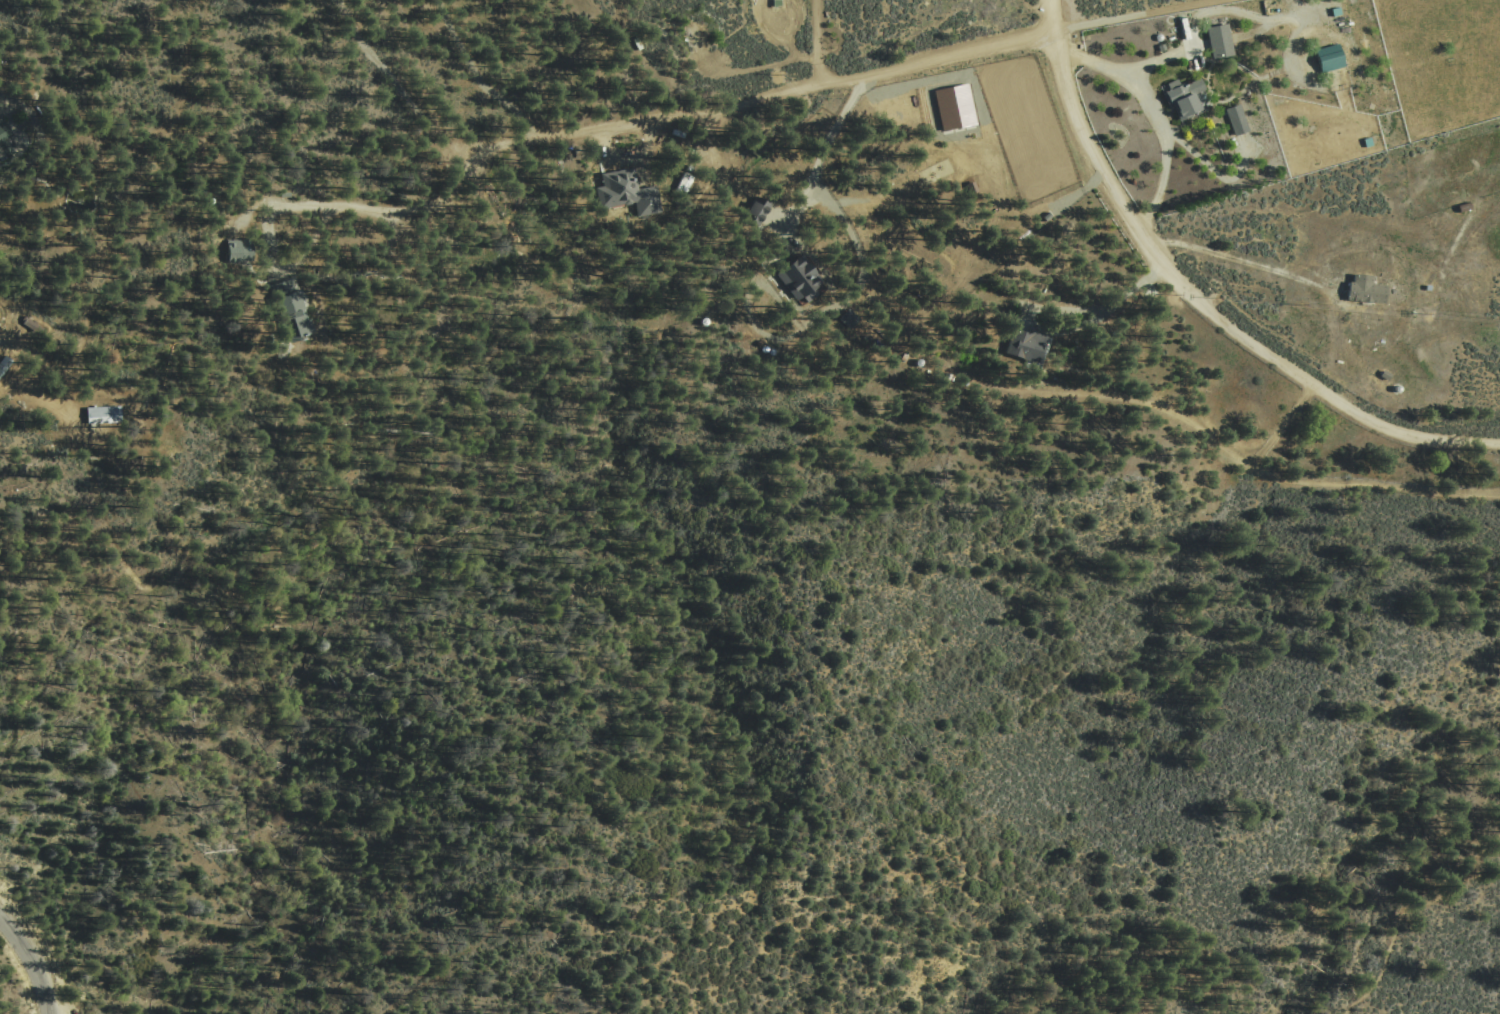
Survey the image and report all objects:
road: (1212, 12)
road: (1144, 18)
building: (1217, 41)
road: (818, 43)
building: (1327, 58)
building: (1180, 98)
road: (762, 100)
building: (953, 105)
road: (1155, 116)
building: (1233, 120)
building: (6, 140)
road: (42, 140)
road: (646, 149)
road: (1214, 172)
building: (632, 192)
road: (825, 197)
road: (307, 206)
road: (800, 208)
building: (760, 209)
building: (242, 249)
road: (1240, 262)
building: (805, 279)
building: (1369, 290)
road: (1198, 301)
building: (292, 304)
building: (850, 318)
road: (1065, 331)
building: (1028, 344)
building: (107, 416)
road: (1281, 427)
road: (1223, 449)
road: (33, 962)
road: (53, 1011)

